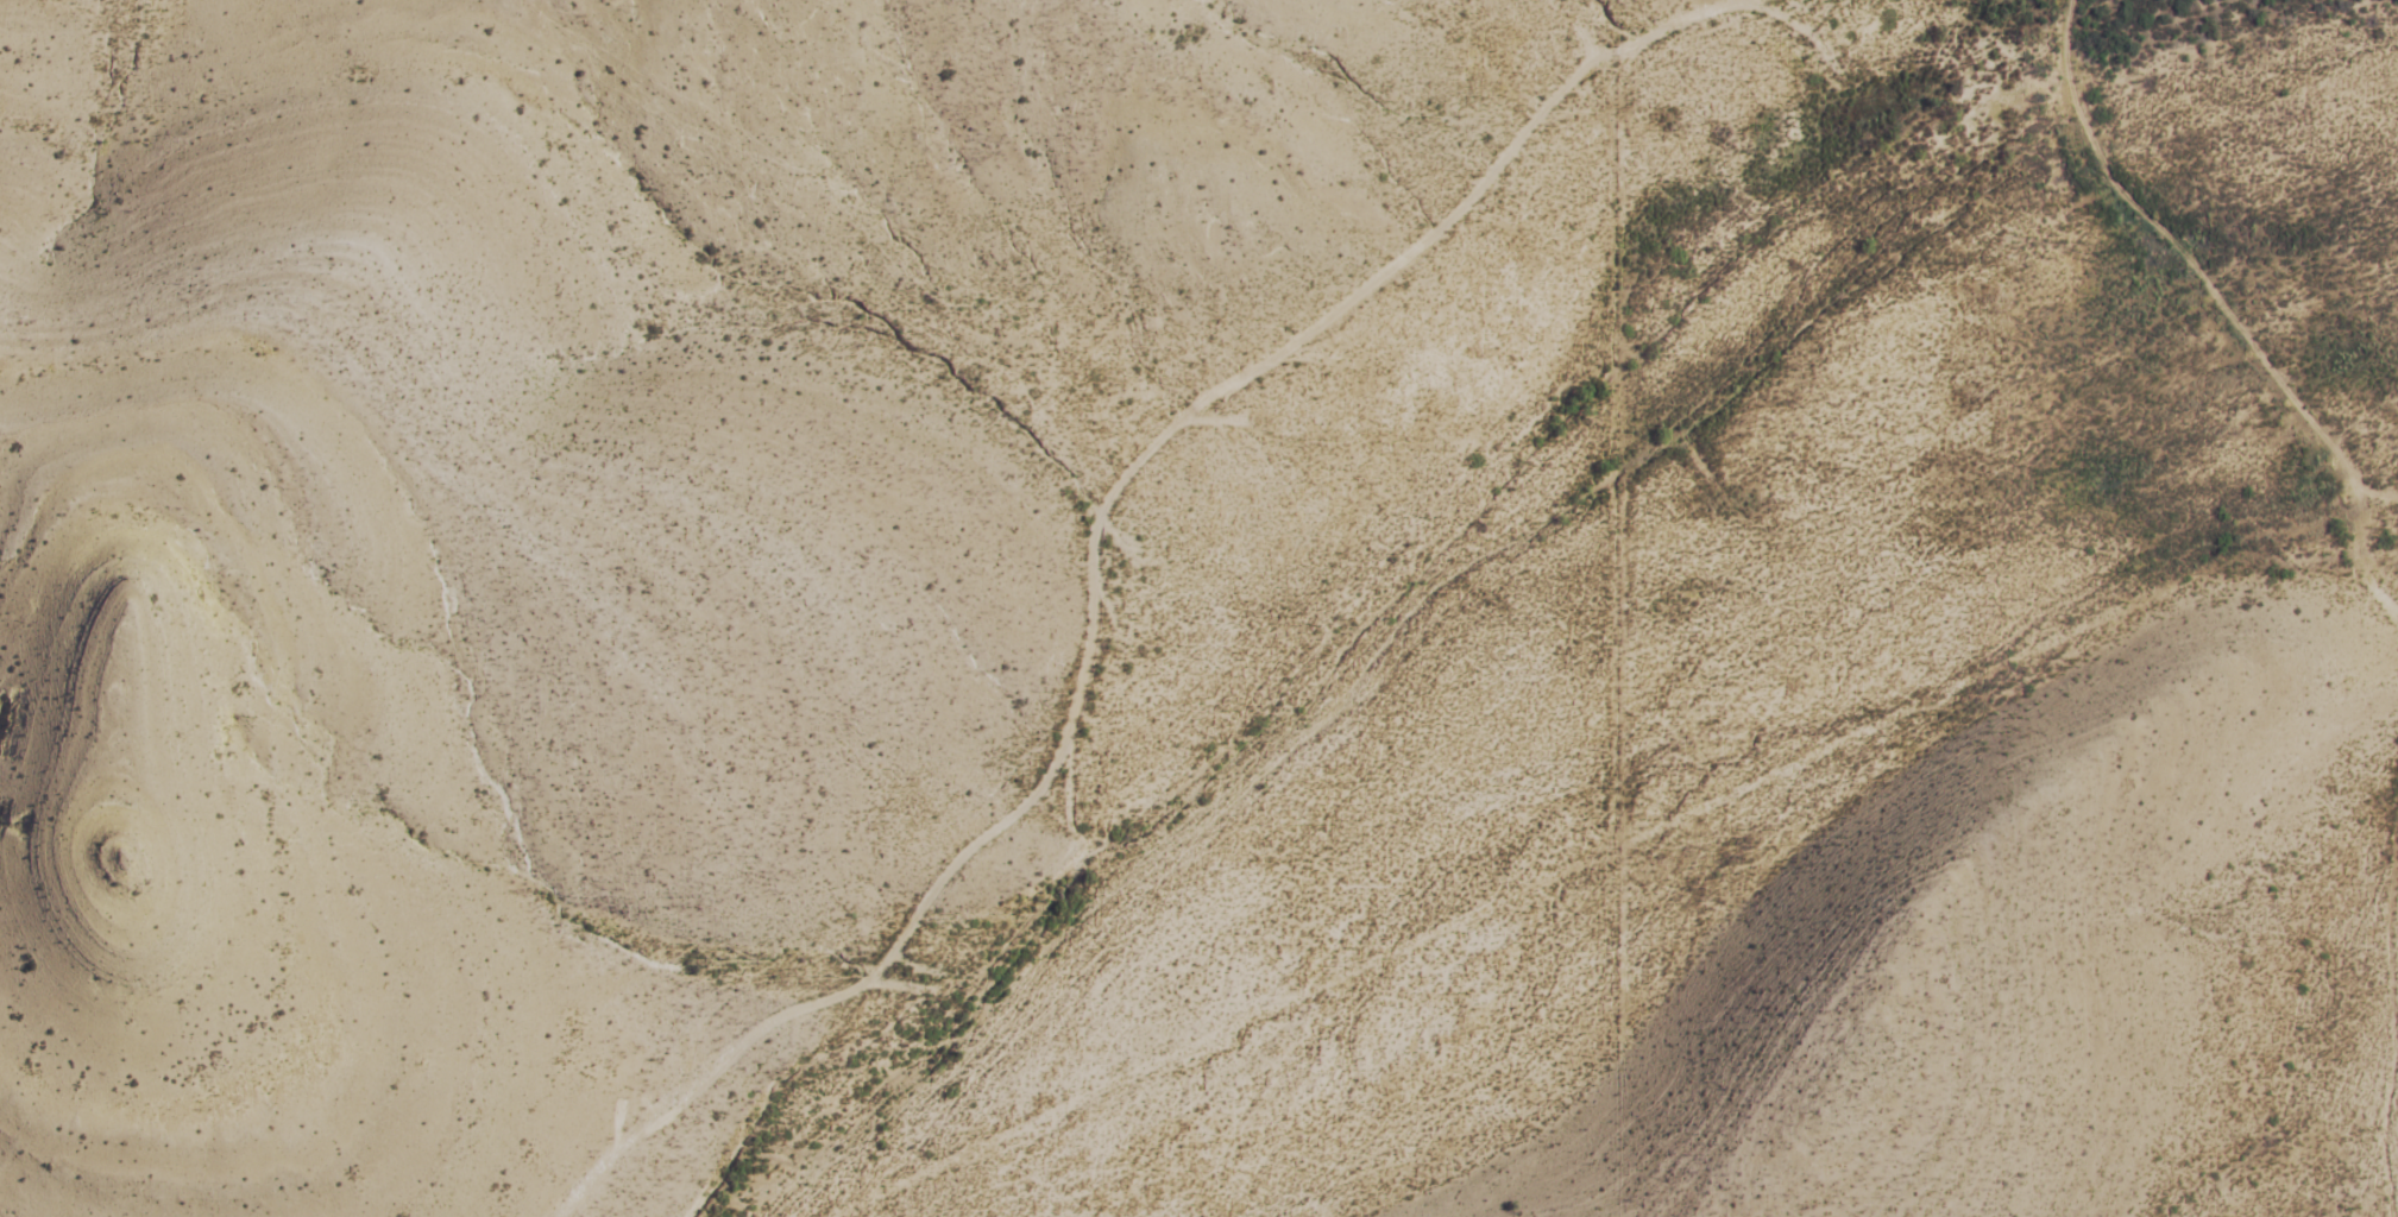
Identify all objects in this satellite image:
road: (2236, 329)
road: (1091, 556)

